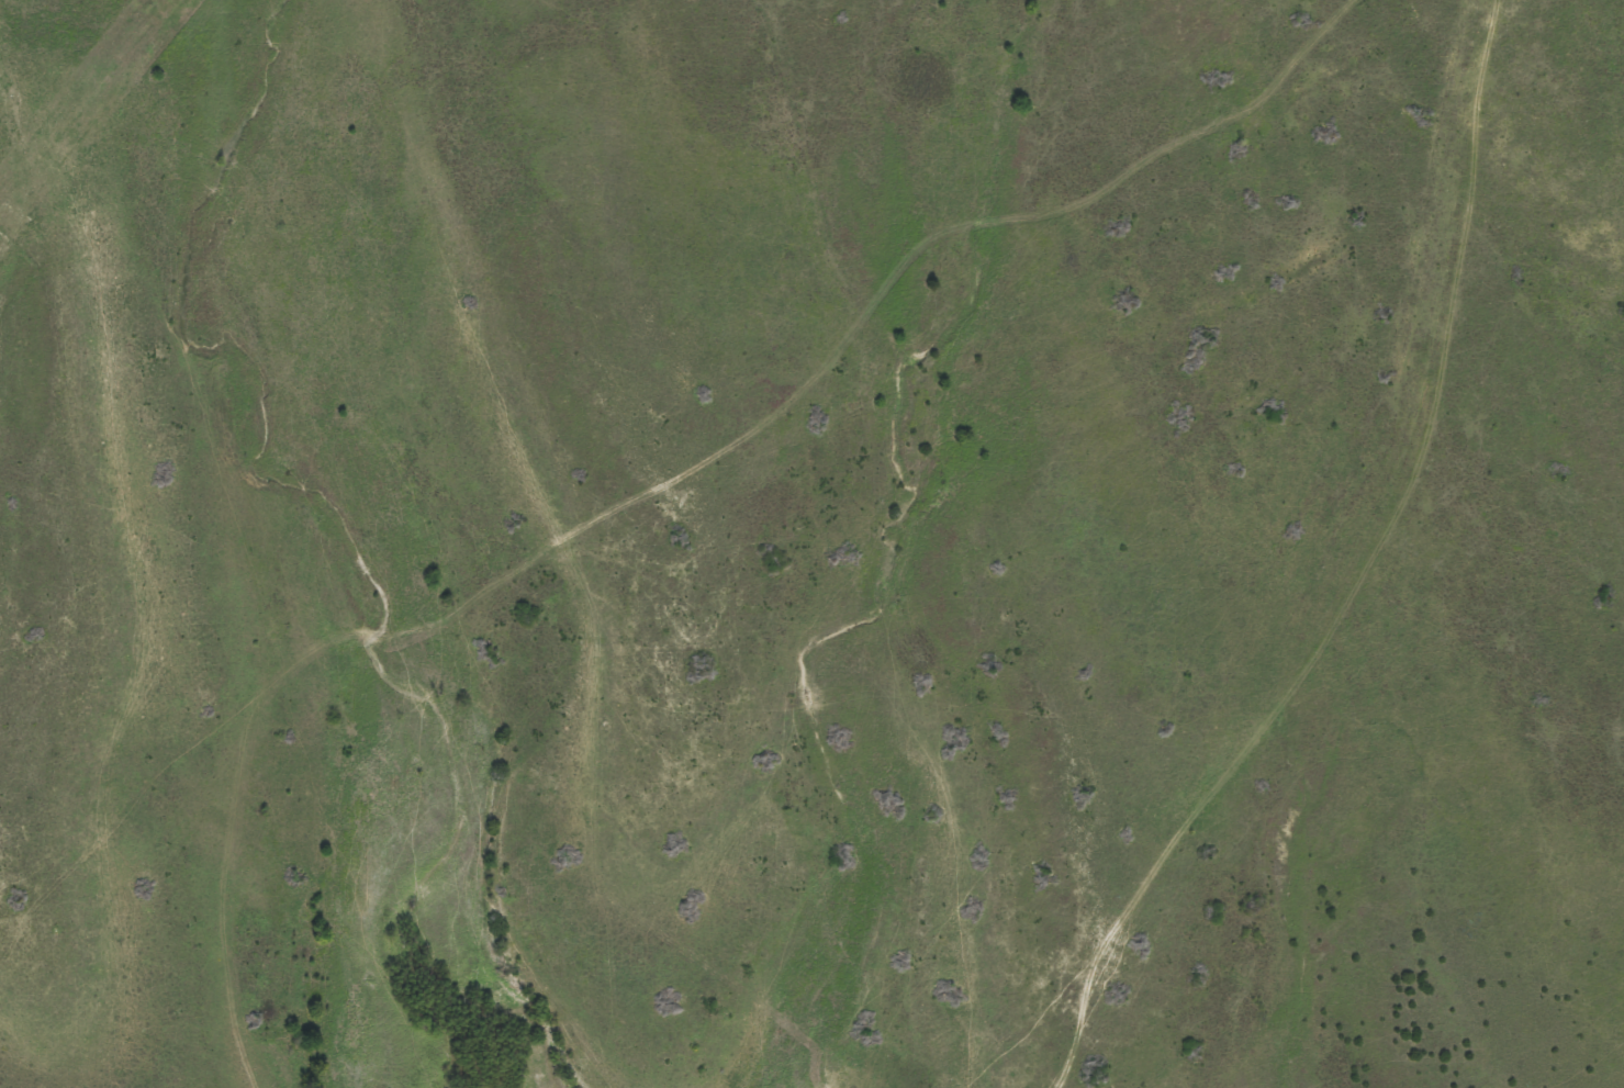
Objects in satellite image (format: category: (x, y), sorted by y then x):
road: (1355, 576)

